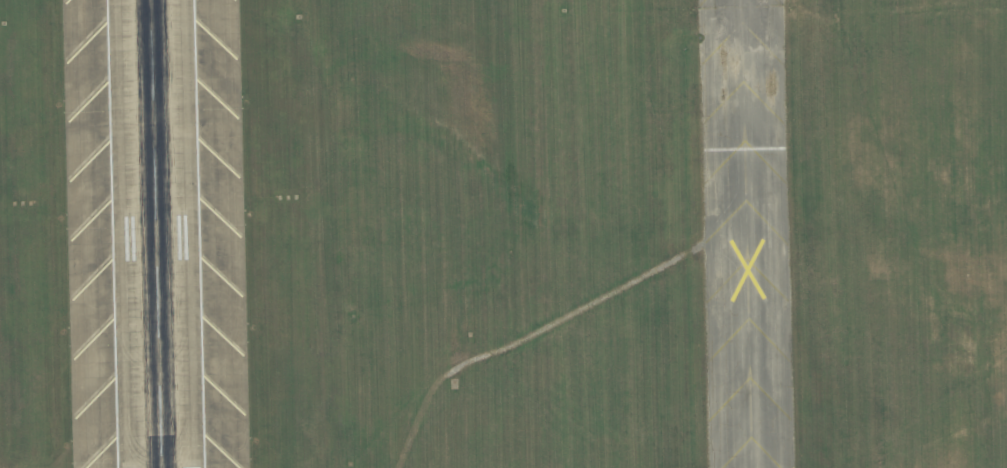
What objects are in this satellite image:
airport runway: (155, 234)
airport: (503, 234)

